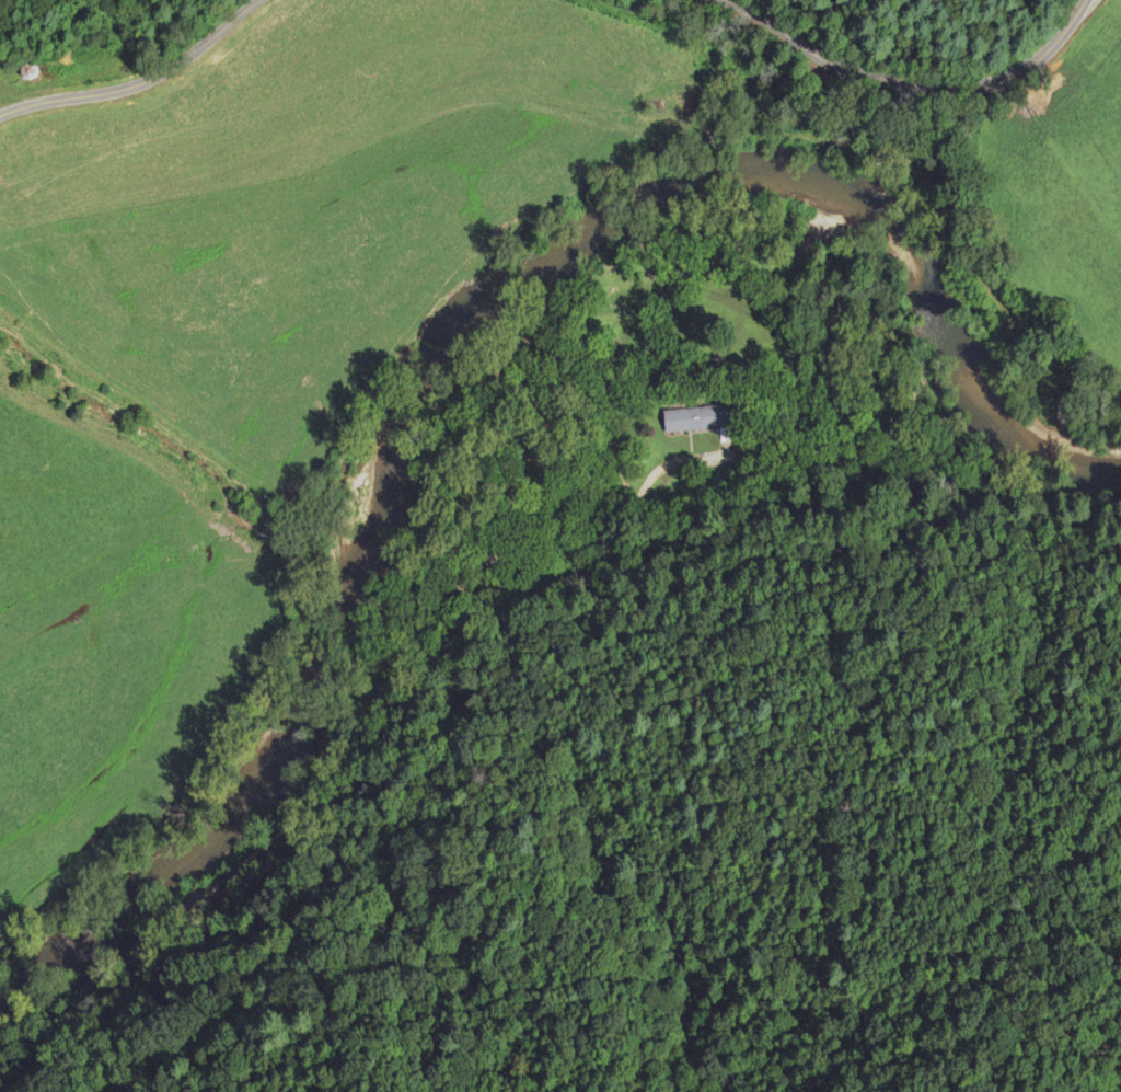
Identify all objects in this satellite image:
building: (27, 71)
road: (140, 83)
road: (915, 85)
river: (462, 332)
building: (697, 418)
building: (454, 574)
road: (344, 727)

